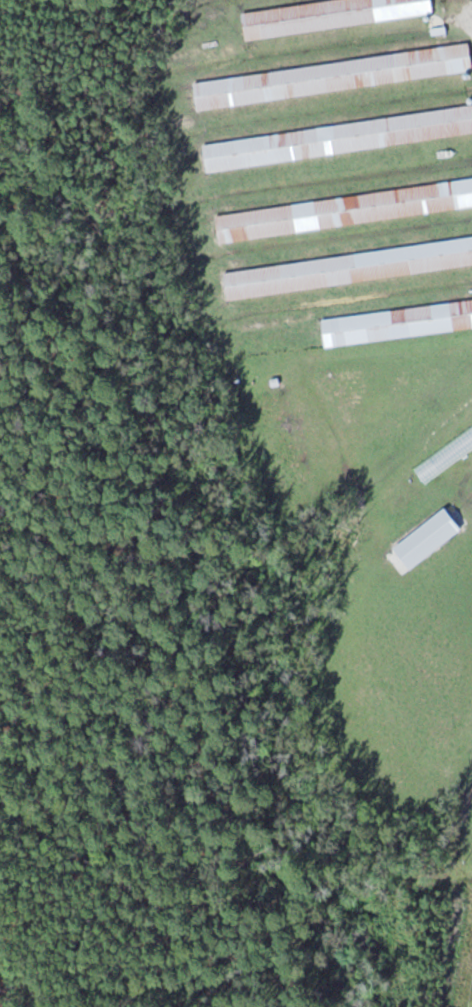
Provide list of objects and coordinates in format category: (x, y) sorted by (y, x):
building: (329, 15)
building: (334, 76)
building: (338, 138)
building: (345, 209)
building: (349, 267)
building: (397, 322)
building: (429, 537)

